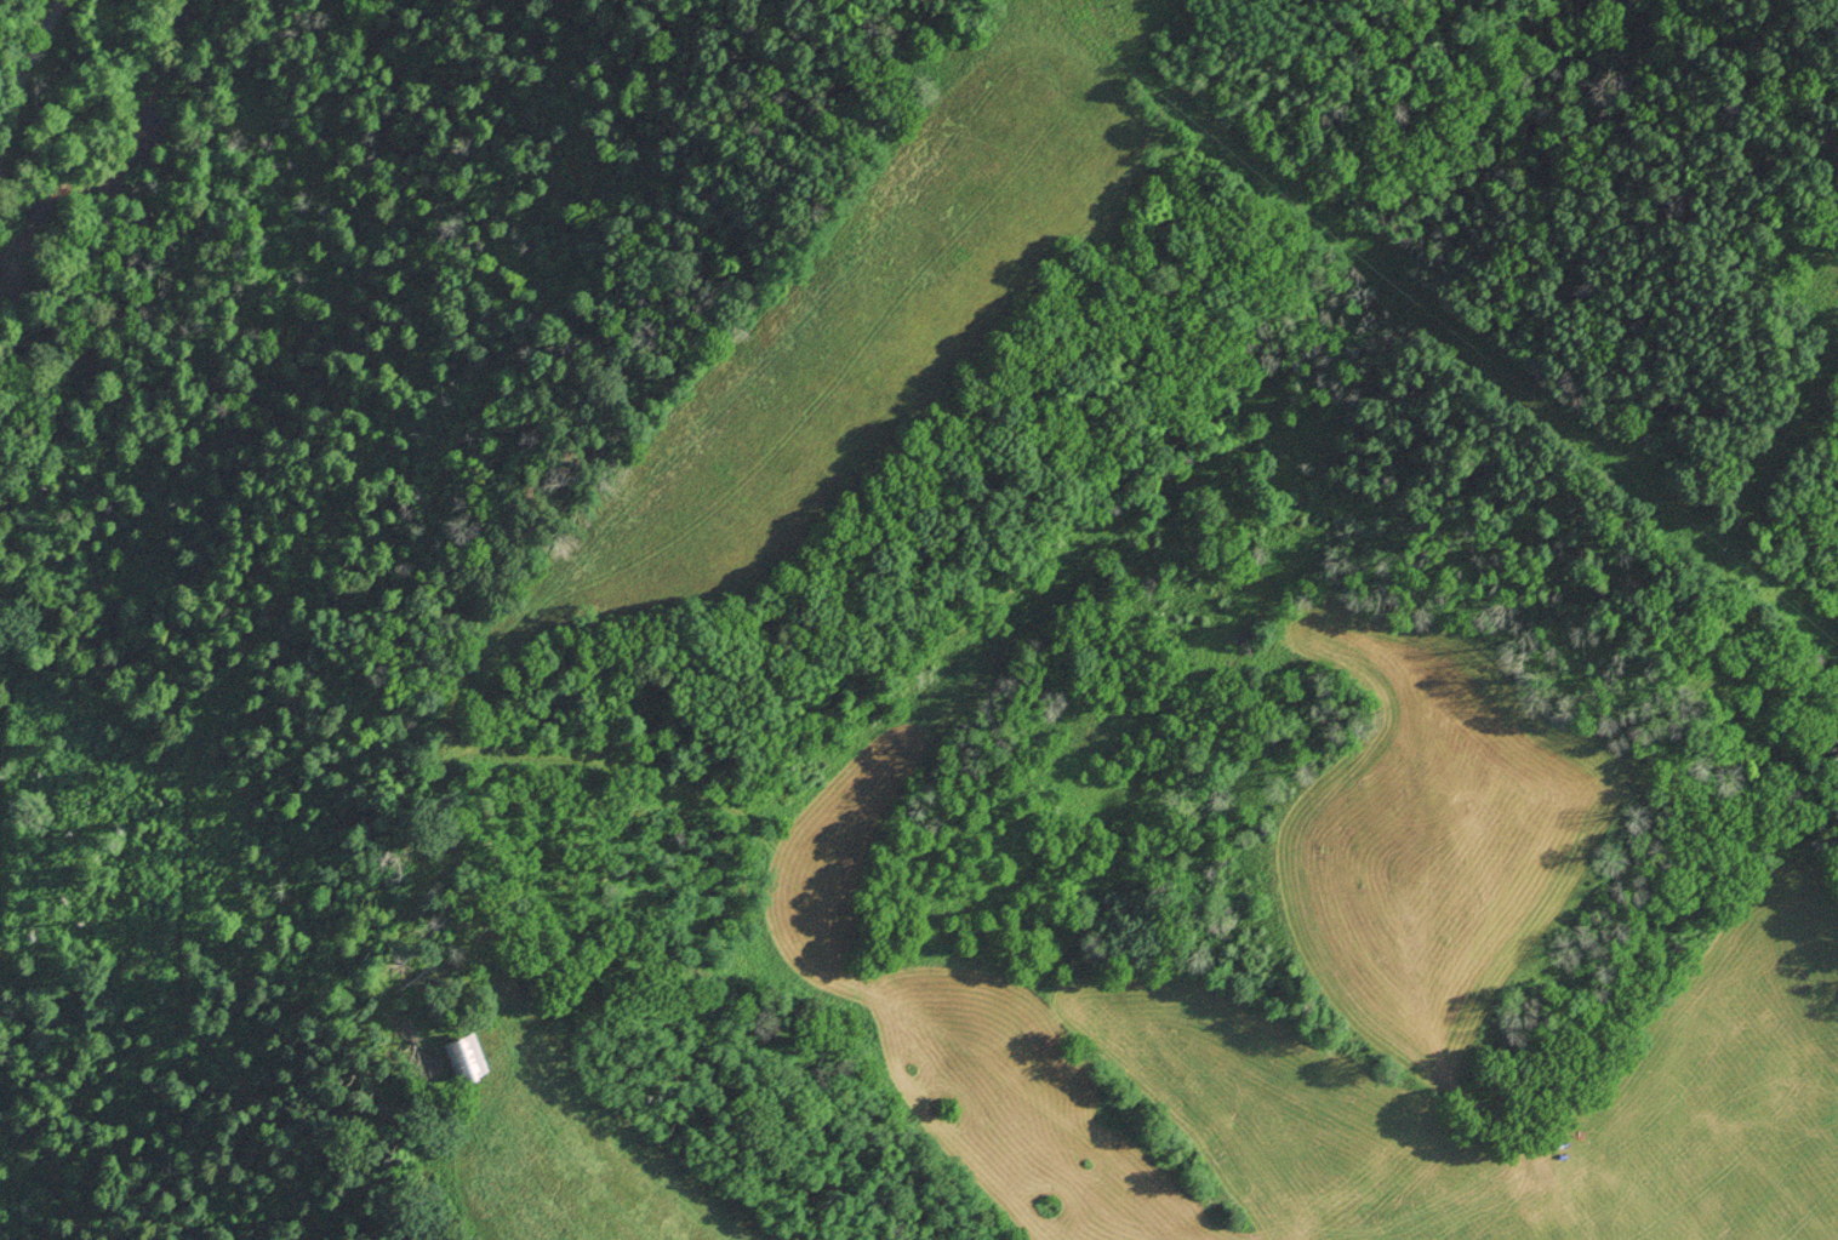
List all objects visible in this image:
road: (27, 61)
building: (462, 1058)

